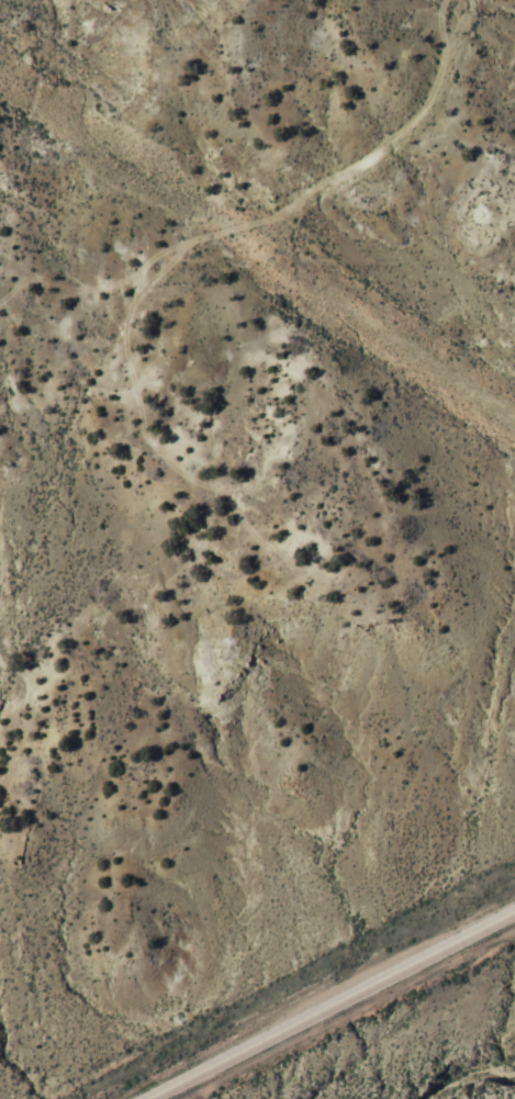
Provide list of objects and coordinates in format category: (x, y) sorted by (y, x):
road: (332, 1005)

